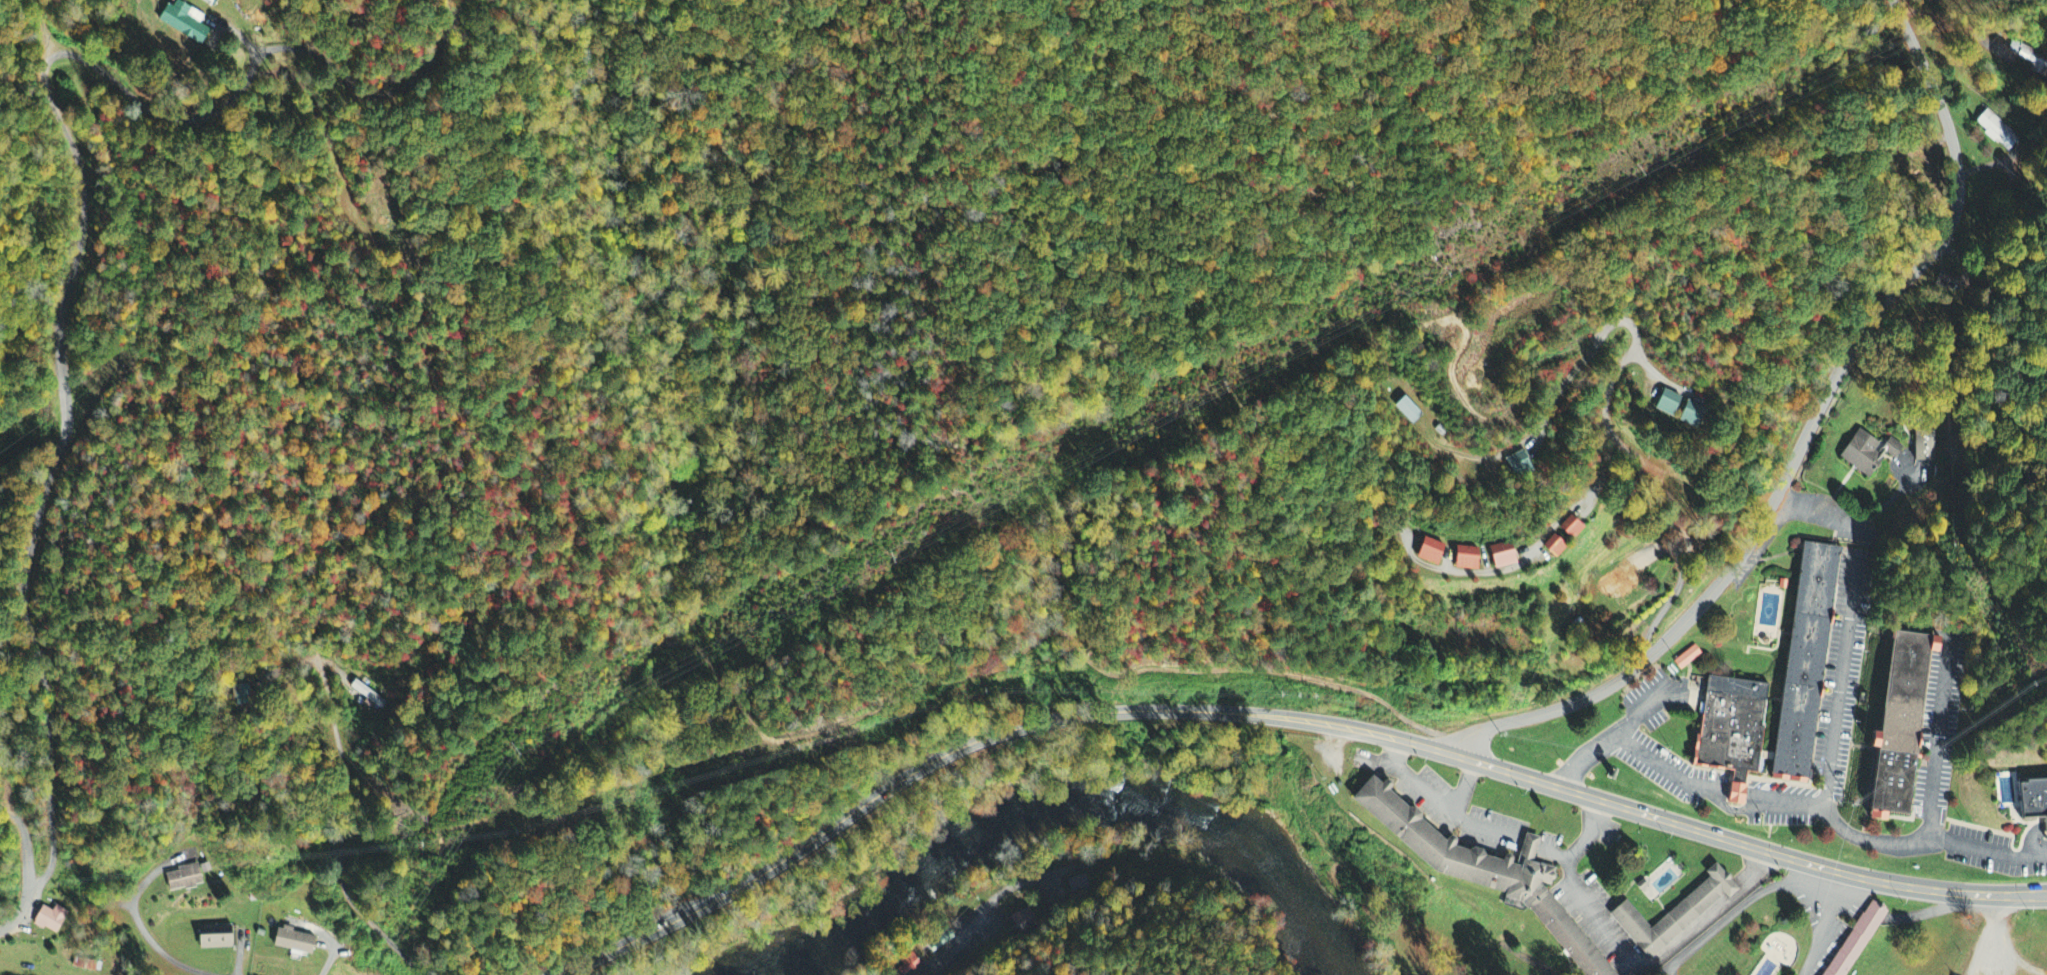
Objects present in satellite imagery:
building: (188, 23)
building: (1997, 131)
park: (389, 227)
road: (76, 242)
road: (2001, 269)
road: (1617, 370)
building: (1666, 403)
building: (1408, 410)
building: (1691, 415)
road: (1807, 435)
building: (1925, 447)
building: (1866, 453)
building: (1514, 464)
building: (1569, 529)
road: (1531, 545)
building: (1552, 547)
building: (1427, 552)
building: (1503, 556)
building: (1463, 559)
building: (1619, 583)
building: (1802, 658)
building: (1686, 659)
building: (240, 696)
building: (370, 696)
building: (1896, 722)
building: (1727, 727)
building: (2031, 795)
road: (1597, 799)
river: (969, 815)
road: (837, 817)
road: (22, 837)
building: (1479, 873)
building: (187, 878)
river: (1274, 896)
building: (1674, 911)
building: (53, 920)
building: (1023, 920)
building: (219, 938)
building: (1854, 940)
building: (298, 942)
building: (938, 942)
river: (736, 966)
building: (906, 966)

